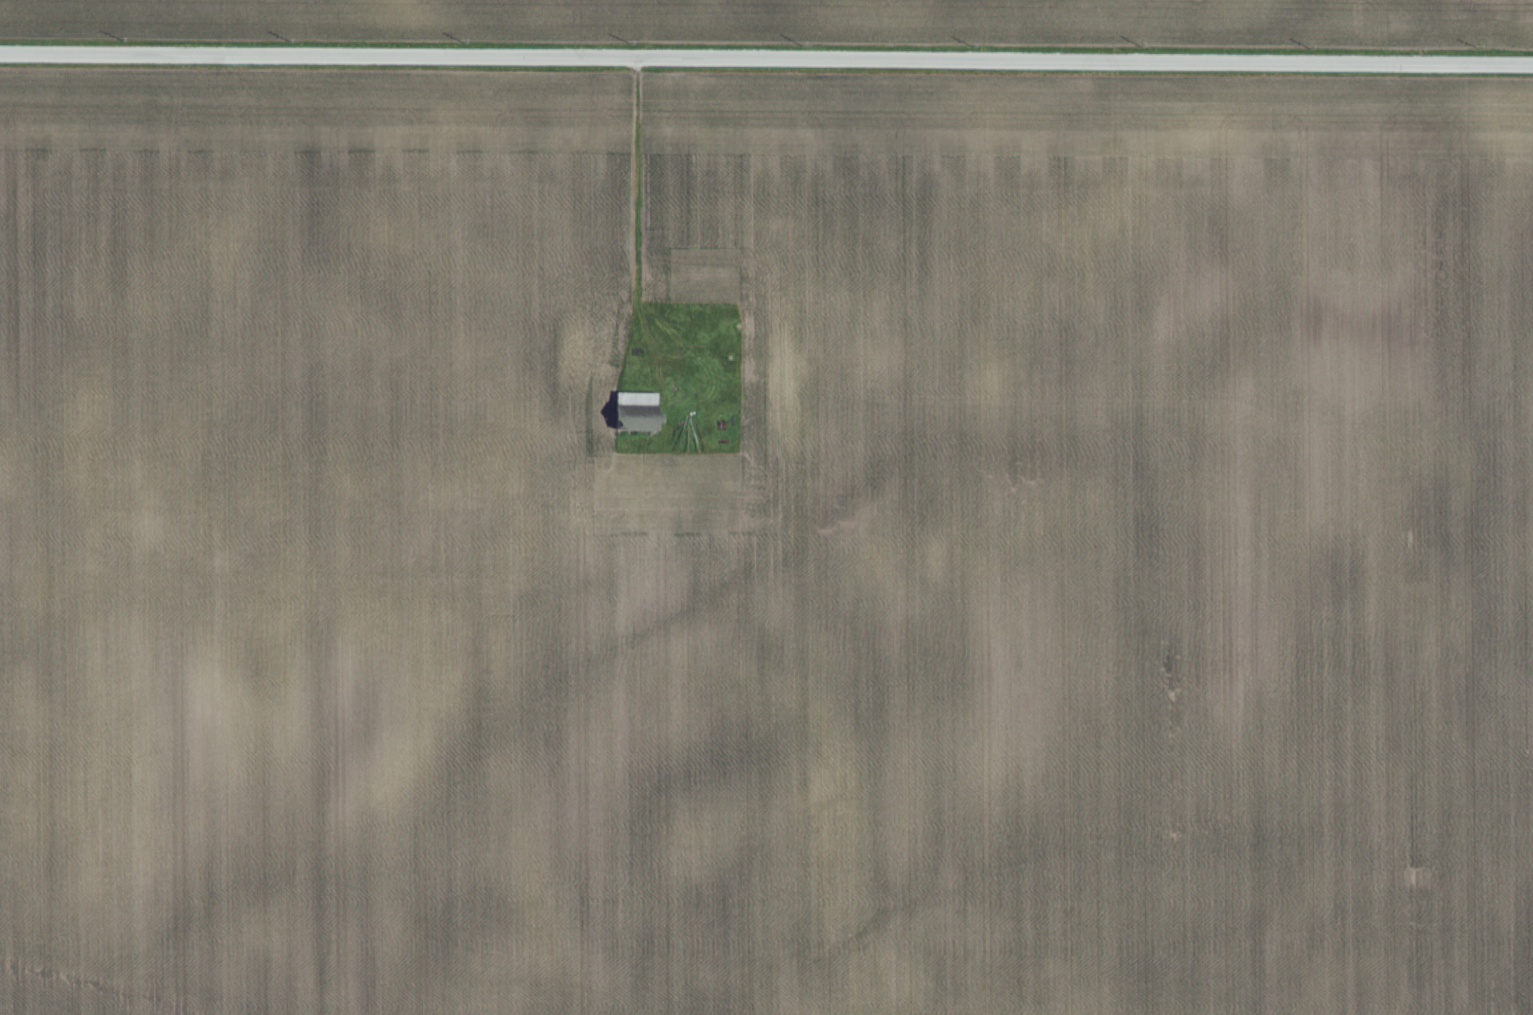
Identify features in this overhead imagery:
road: (766, 57)

